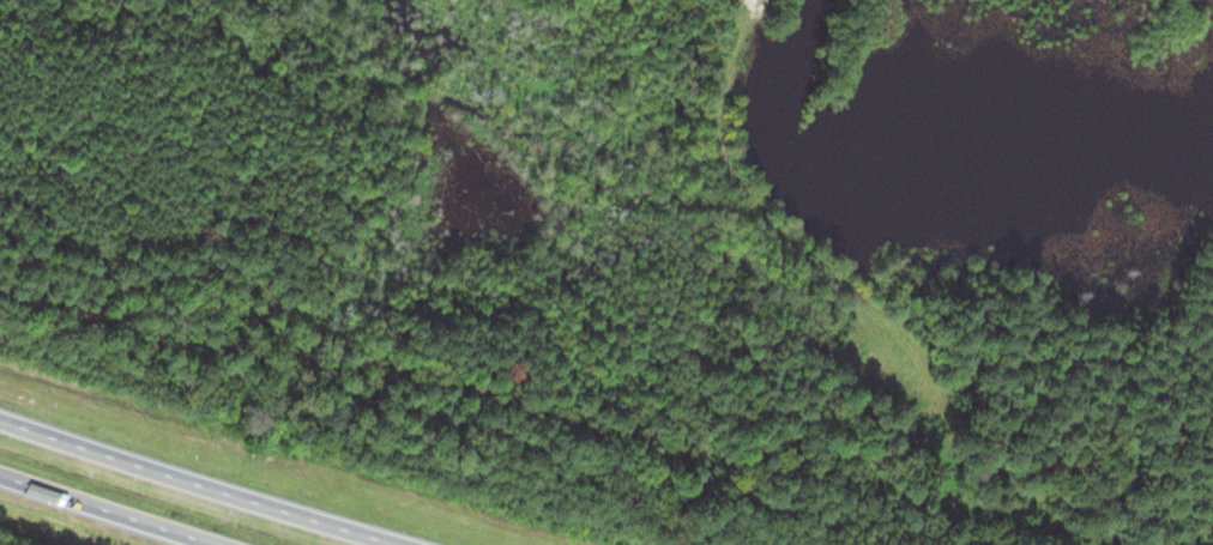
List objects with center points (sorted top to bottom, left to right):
road: (234, 471)
road: (133, 503)

